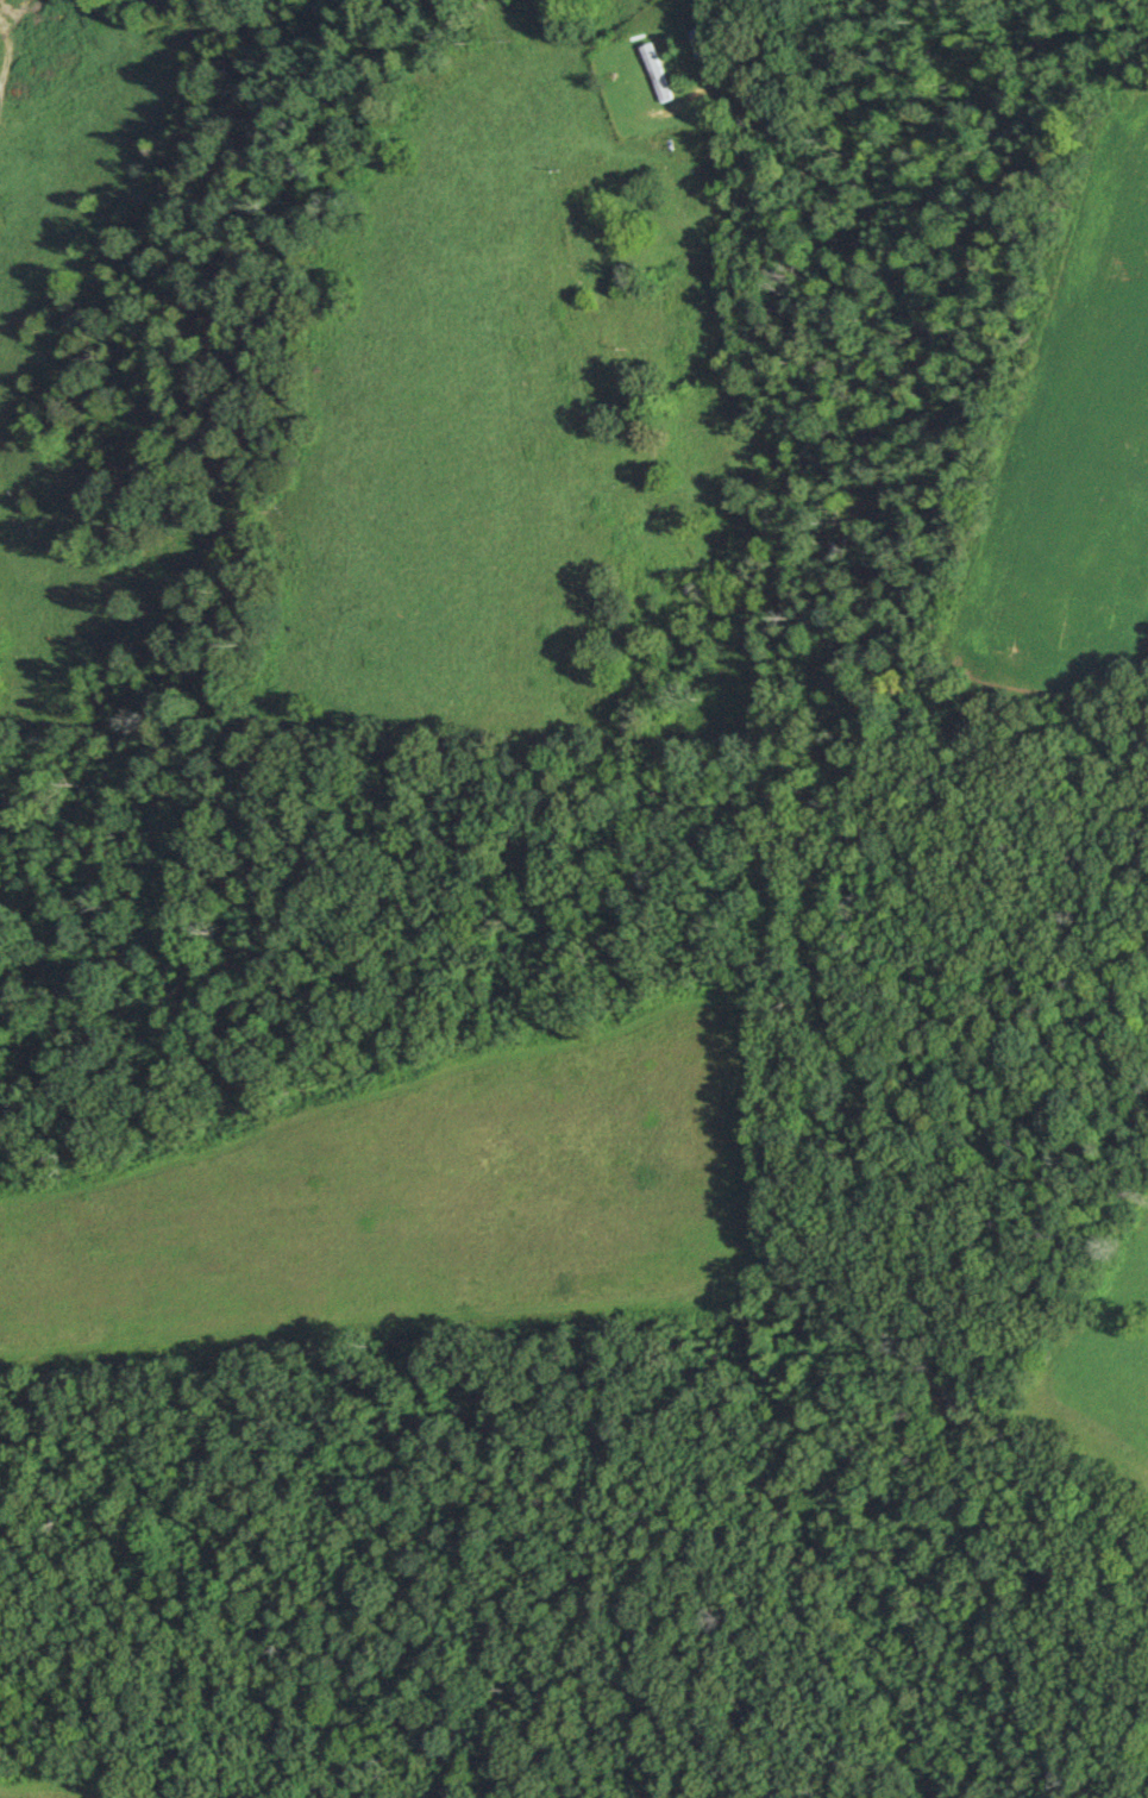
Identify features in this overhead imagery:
building: (705, 44)
building: (660, 74)
road: (788, 851)

